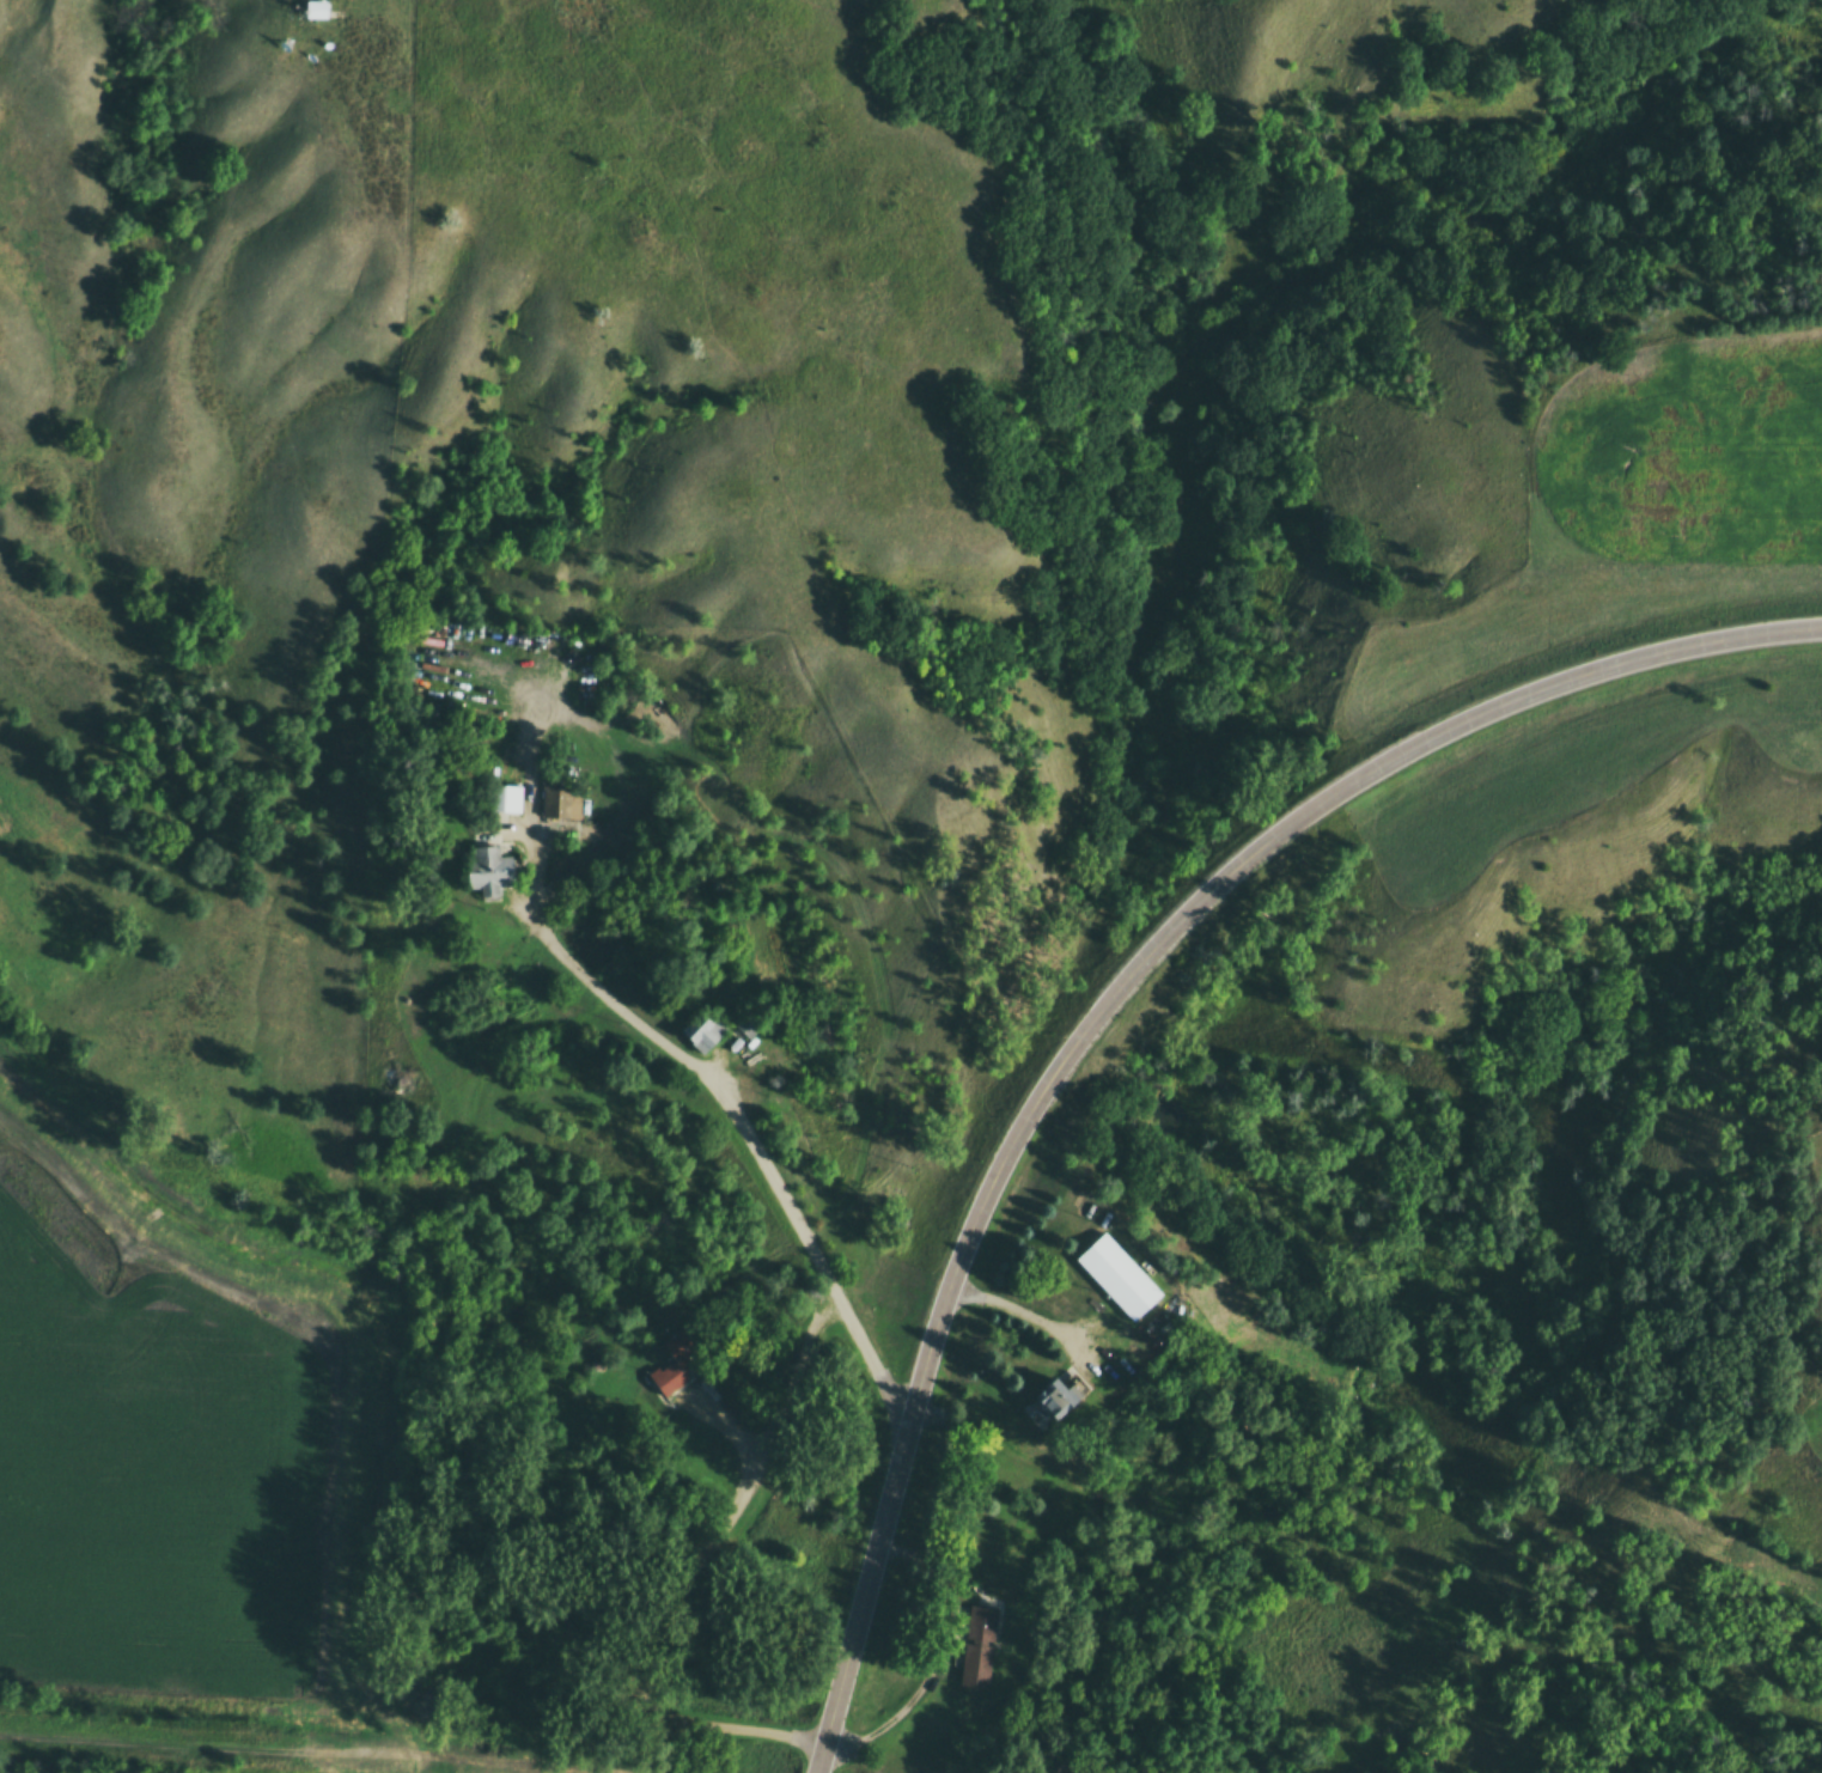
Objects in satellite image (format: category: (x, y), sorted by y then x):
building: (316, 8)
building: (506, 797)
building: (561, 802)
building: (488, 870)
road: (1107, 1001)
building: (750, 1019)
building: (701, 1025)
road: (737, 1116)
building: (1116, 1271)
building: (675, 1359)
building: (1056, 1391)
road: (681, 1578)
building: (977, 1644)
road: (290, 1751)

